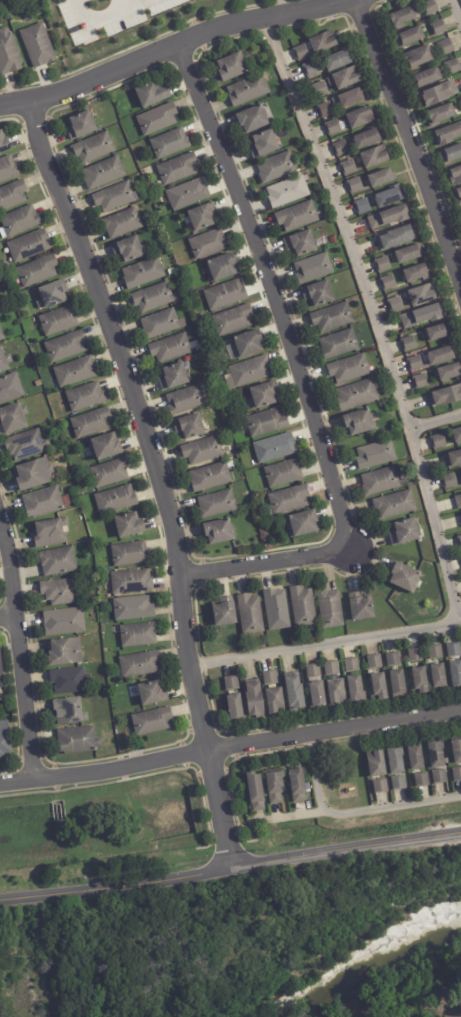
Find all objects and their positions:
road: (123, 6)
road: (137, 6)
building: (431, 7)
road: (456, 11)
building: (402, 17)
building: (440, 26)
road: (89, 28)
building: (411, 35)
building: (324, 40)
road: (169, 44)
building: (38, 46)
building: (448, 46)
building: (303, 52)
building: (9, 54)
building: (421, 55)
building: (340, 59)
building: (454, 65)
building: (232, 66)
building: (313, 67)
building: (349, 76)
building: (428, 76)
building: (249, 89)
building: (321, 89)
building: (437, 93)
building: (151, 94)
building: (352, 95)
building: (327, 109)
building: (441, 115)
building: (361, 116)
building: (254, 118)
building: (157, 119)
building: (82, 125)
building: (334, 126)
building: (447, 134)
building: (368, 137)
building: (4, 143)
building: (170, 143)
building: (265, 143)
road: (412, 145)
building: (95, 147)
building: (342, 147)
building: (452, 154)
building: (375, 155)
building: (345, 165)
building: (278, 167)
building: (8, 168)
building: (177, 169)
building: (105, 172)
building: (453, 174)
building: (377, 177)
building: (352, 184)
building: (289, 191)
building: (189, 194)
building: (12, 195)
building: (457, 195)
building: (384, 196)
building: (116, 197)
building: (359, 204)
building: (202, 216)
building: (299, 216)
building: (383, 217)
building: (20, 221)
building: (124, 223)
building: (391, 237)
building: (302, 243)
building: (209, 244)
building: (29, 246)
building: (129, 249)
building: (410, 253)
building: (380, 263)
building: (222, 268)
building: (315, 268)
building: (38, 271)
building: (144, 272)
building: (418, 274)
building: (179, 278)
building: (386, 281)
building: (320, 293)
building: (424, 293)
building: (54, 294)
building: (227, 295)
building: (154, 297)
building: (393, 302)
building: (0, 308)
building: (420, 314)
road: (370, 317)
building: (334, 318)
building: (233, 320)
building: (59, 321)
building: (202, 322)
building: (162, 323)
building: (434, 331)
building: (2, 335)
building: (406, 342)
building: (340, 344)
building: (247, 345)
building: (67, 348)
building: (172, 348)
building: (437, 354)
building: (5, 360)
building: (412, 362)
building: (351, 369)
building: (76, 371)
building: (251, 371)
building: (446, 371)
building: (175, 376)
road: (300, 377)
building: (417, 380)
building: (11, 388)
building: (444, 394)
building: (358, 395)
building: (265, 396)
building: (86, 397)
building: (187, 400)
building: (14, 418)
road: (435, 419)
building: (268, 422)
building: (93, 423)
building: (359, 423)
building: (191, 427)
building: (458, 436)
building: (440, 441)
building: (23, 443)
building: (107, 446)
building: (276, 448)
building: (204, 451)
building: (377, 455)
building: (454, 460)
building: (460, 469)
building: (285, 473)
building: (34, 474)
building: (111, 474)
road: (158, 476)
building: (212, 477)
building: (381, 481)
building: (450, 482)
building: (247, 489)
building: (117, 500)
building: (289, 500)
building: (459, 501)
building: (44, 502)
building: (218, 504)
building: (396, 505)
building: (459, 515)
building: (305, 524)
building: (129, 525)
building: (406, 532)
building: (52, 533)
building: (219, 533)
building: (458, 540)
building: (131, 554)
building: (460, 559)
building: (59, 561)
building: (406, 577)
building: (132, 582)
building: (60, 592)
building: (304, 607)
building: (362, 607)
building: (135, 609)
building: (278, 610)
building: (332, 610)
building: (224, 612)
building: (251, 614)
road: (10, 619)
building: (64, 622)
building: (140, 635)
road: (325, 645)
road: (22, 649)
building: (455, 651)
building: (67, 652)
building: (437, 653)
building: (417, 656)
building: (395, 660)
building: (136, 663)
building: (376, 663)
building: (354, 666)
building: (333, 669)
building: (1, 672)
building: (315, 672)
building: (456, 675)
building: (271, 678)
building: (440, 678)
building: (71, 681)
building: (419, 682)
building: (233, 684)
building: (399, 684)
building: (379, 688)
building: (357, 689)
building: (148, 692)
building: (338, 693)
building: (296, 694)
building: (319, 695)
building: (255, 699)
building: (276, 702)
building: (235, 709)
building: (71, 712)
building: (150, 720)
building: (5, 740)
building: (79, 741)
road: (230, 746)
building: (457, 750)
building: (432, 752)
building: (417, 759)
building: (396, 761)
building: (376, 763)
building: (436, 775)
building: (457, 775)
building: (418, 778)
building: (400, 783)
building: (299, 786)
building: (381, 786)
building: (277, 788)
building: (257, 792)
road: (353, 811)
road: (288, 817)
road: (230, 868)

